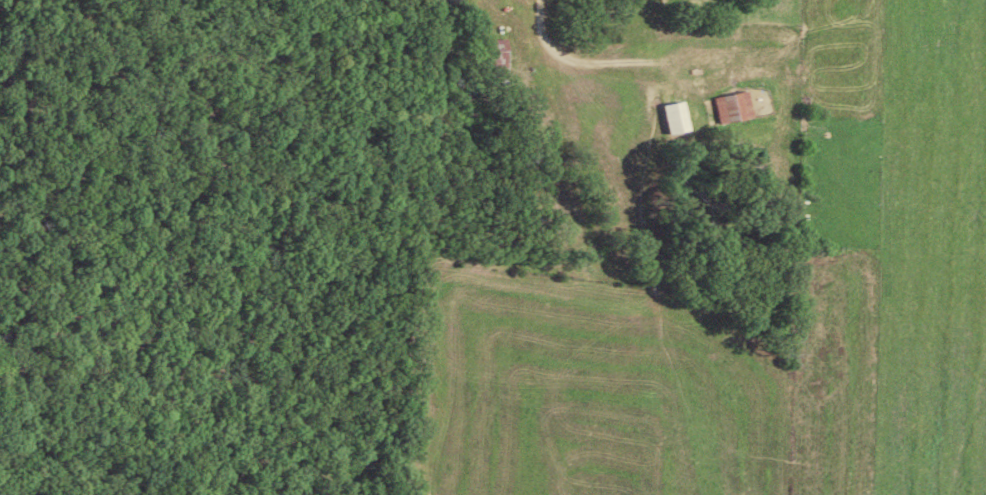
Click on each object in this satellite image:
building: (672, 119)

